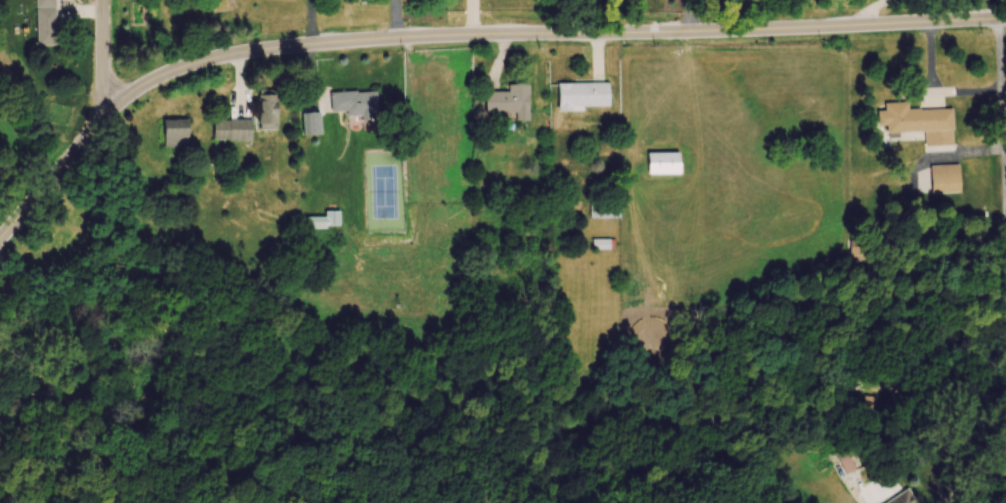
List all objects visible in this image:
road: (872, 8)
road: (687, 14)
building: (47, 28)
road: (465, 36)
road: (102, 61)
building: (584, 97)
building: (511, 102)
building: (355, 104)
road: (1001, 106)
building: (268, 112)
building: (915, 119)
building: (310, 125)
building: (233, 130)
building: (176, 134)
building: (663, 164)
building: (946, 184)
building: (604, 210)
building: (324, 222)
building: (602, 246)
building: (860, 248)
road: (1003, 363)
building: (872, 405)
road: (935, 452)
building: (846, 462)
building: (906, 498)

